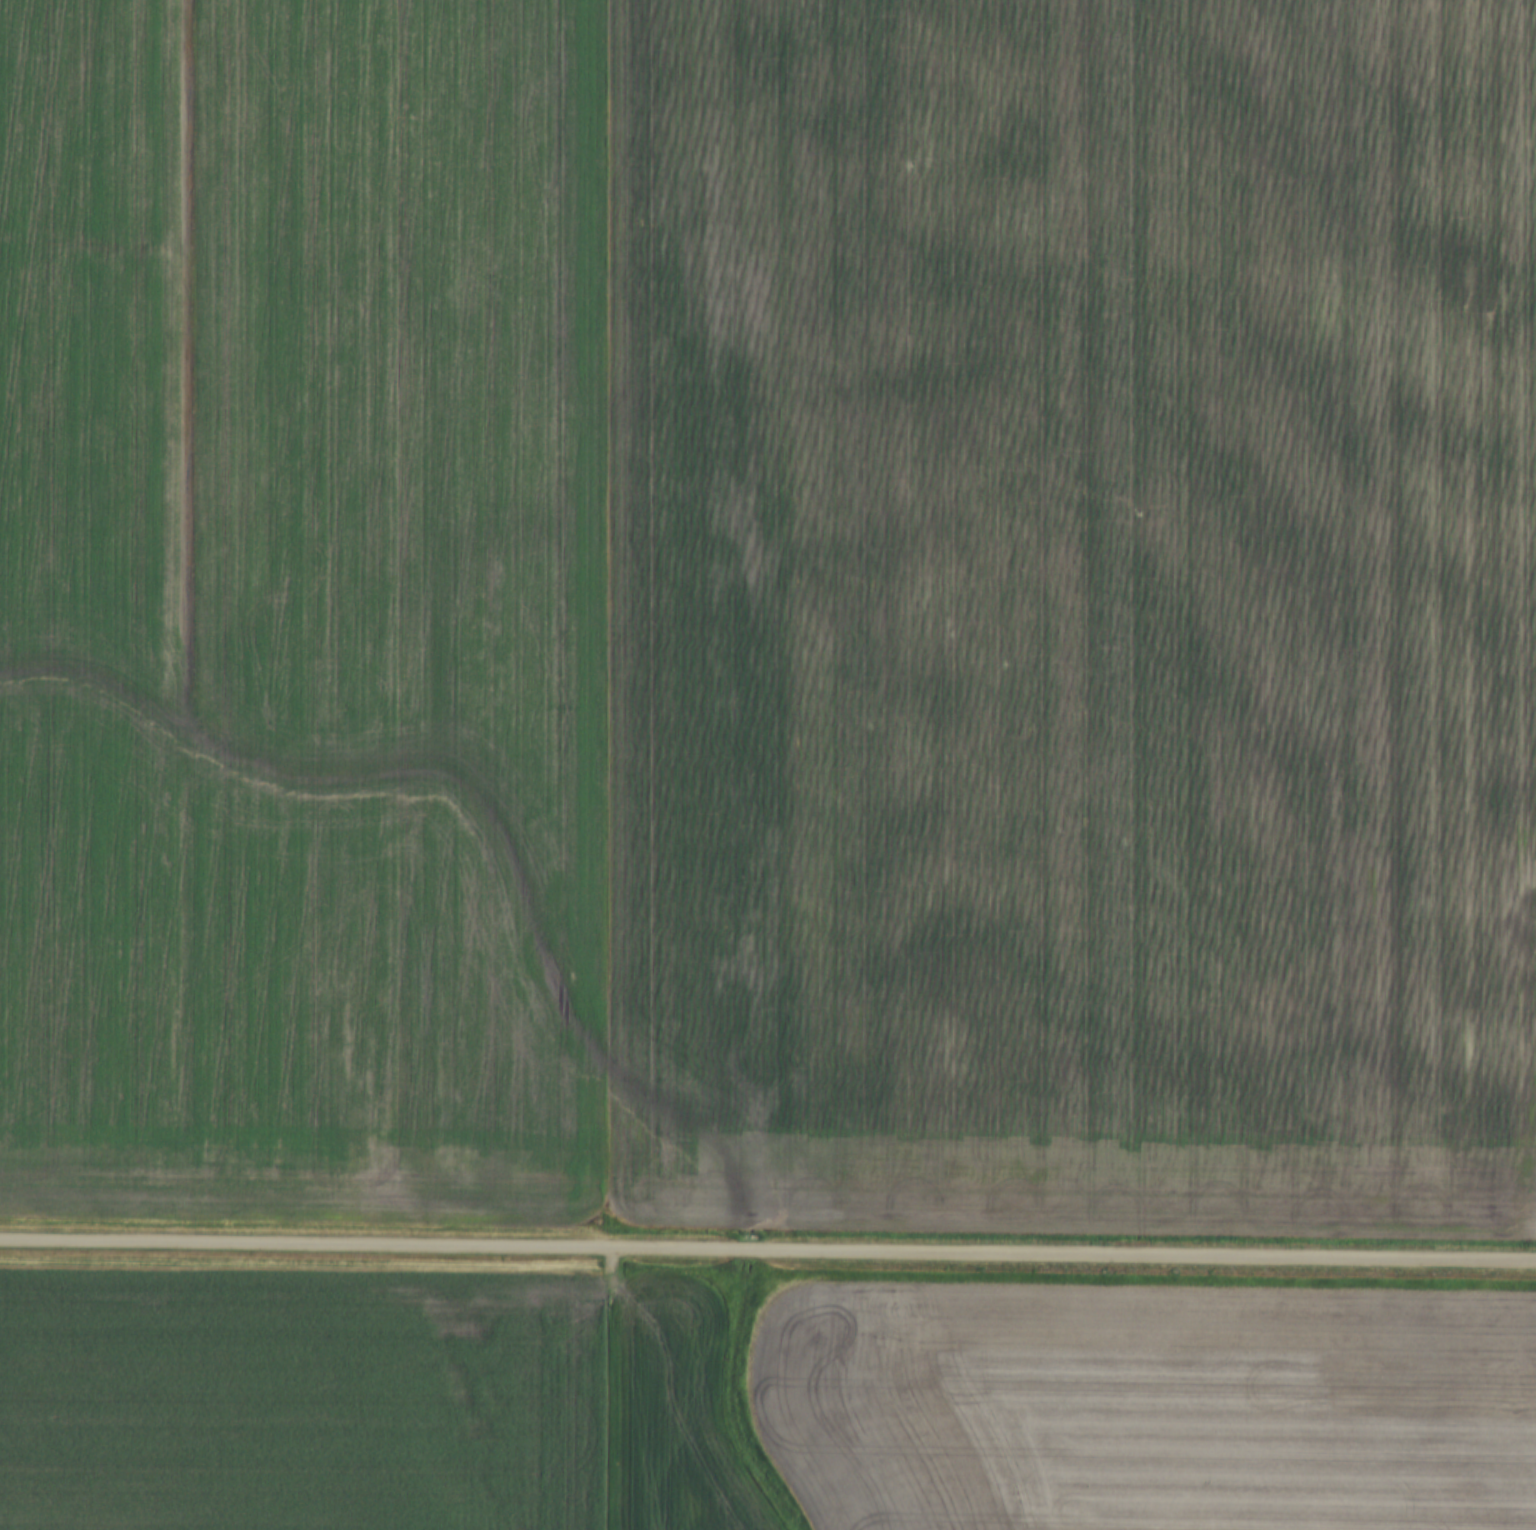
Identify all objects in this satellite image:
road: (767, 1250)

